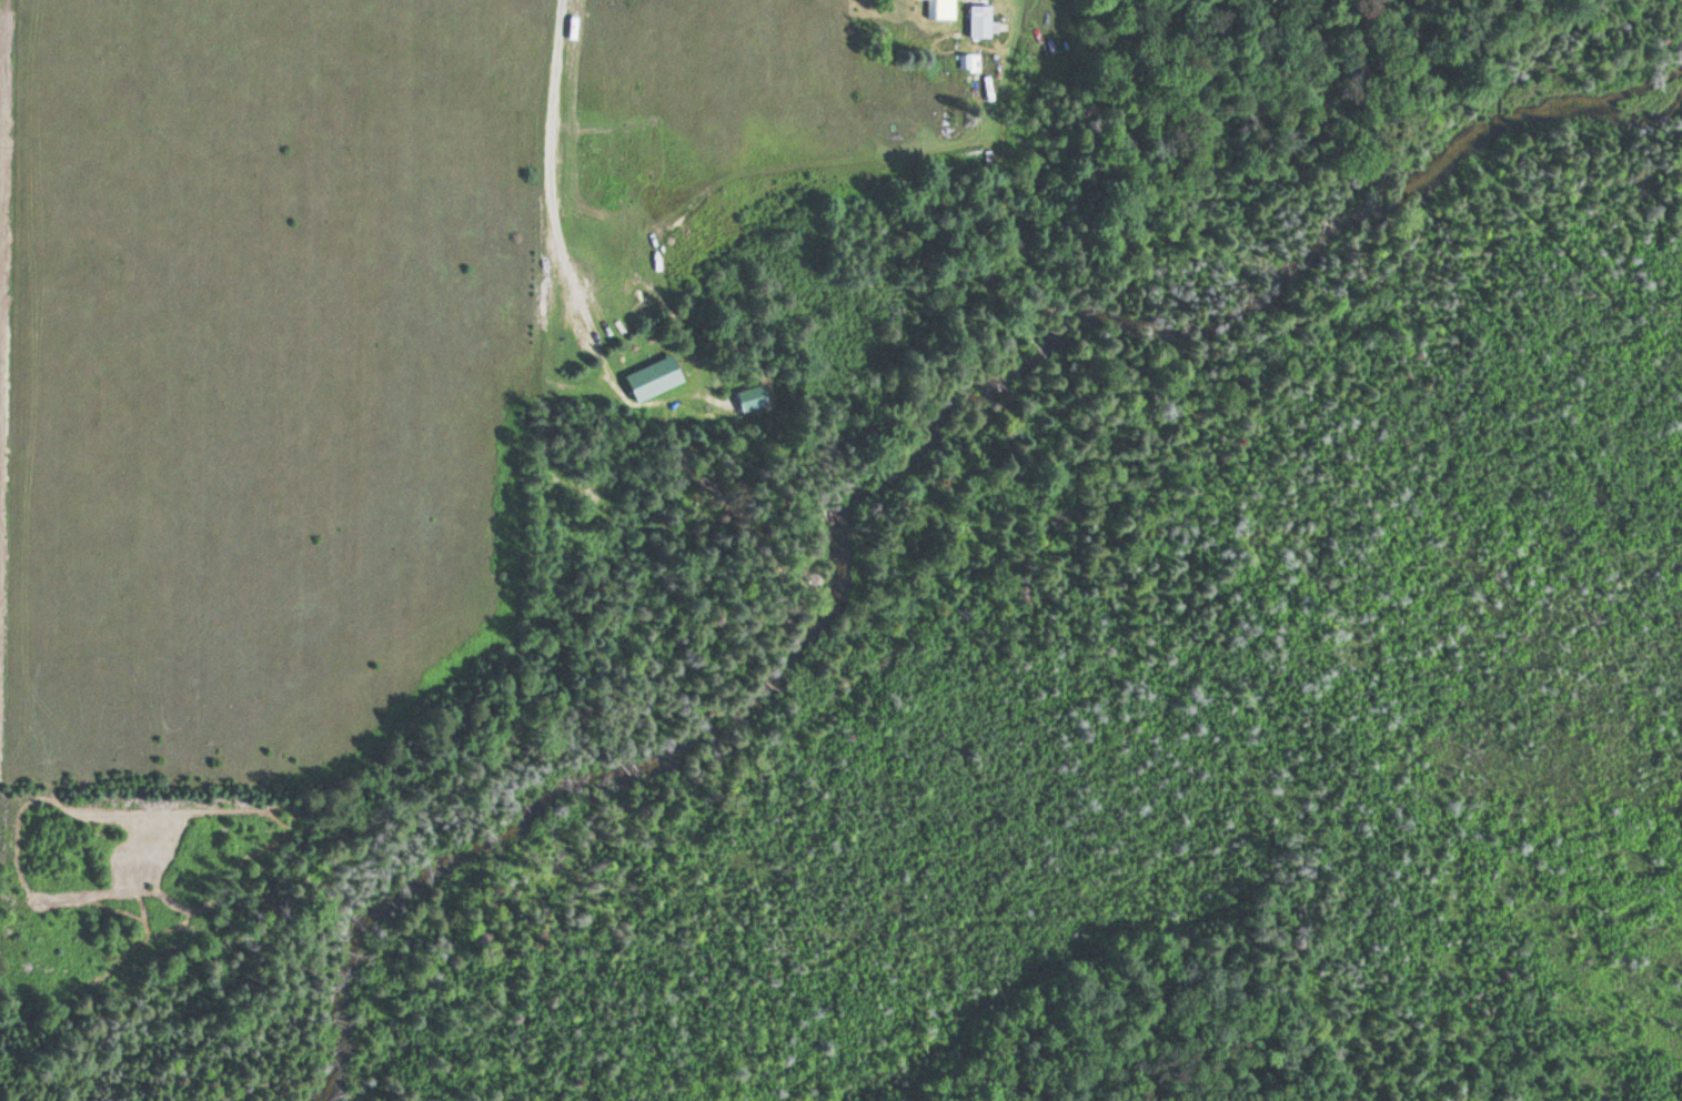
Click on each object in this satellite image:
building: (938, 9)
building: (977, 20)
building: (968, 61)
building: (653, 378)

